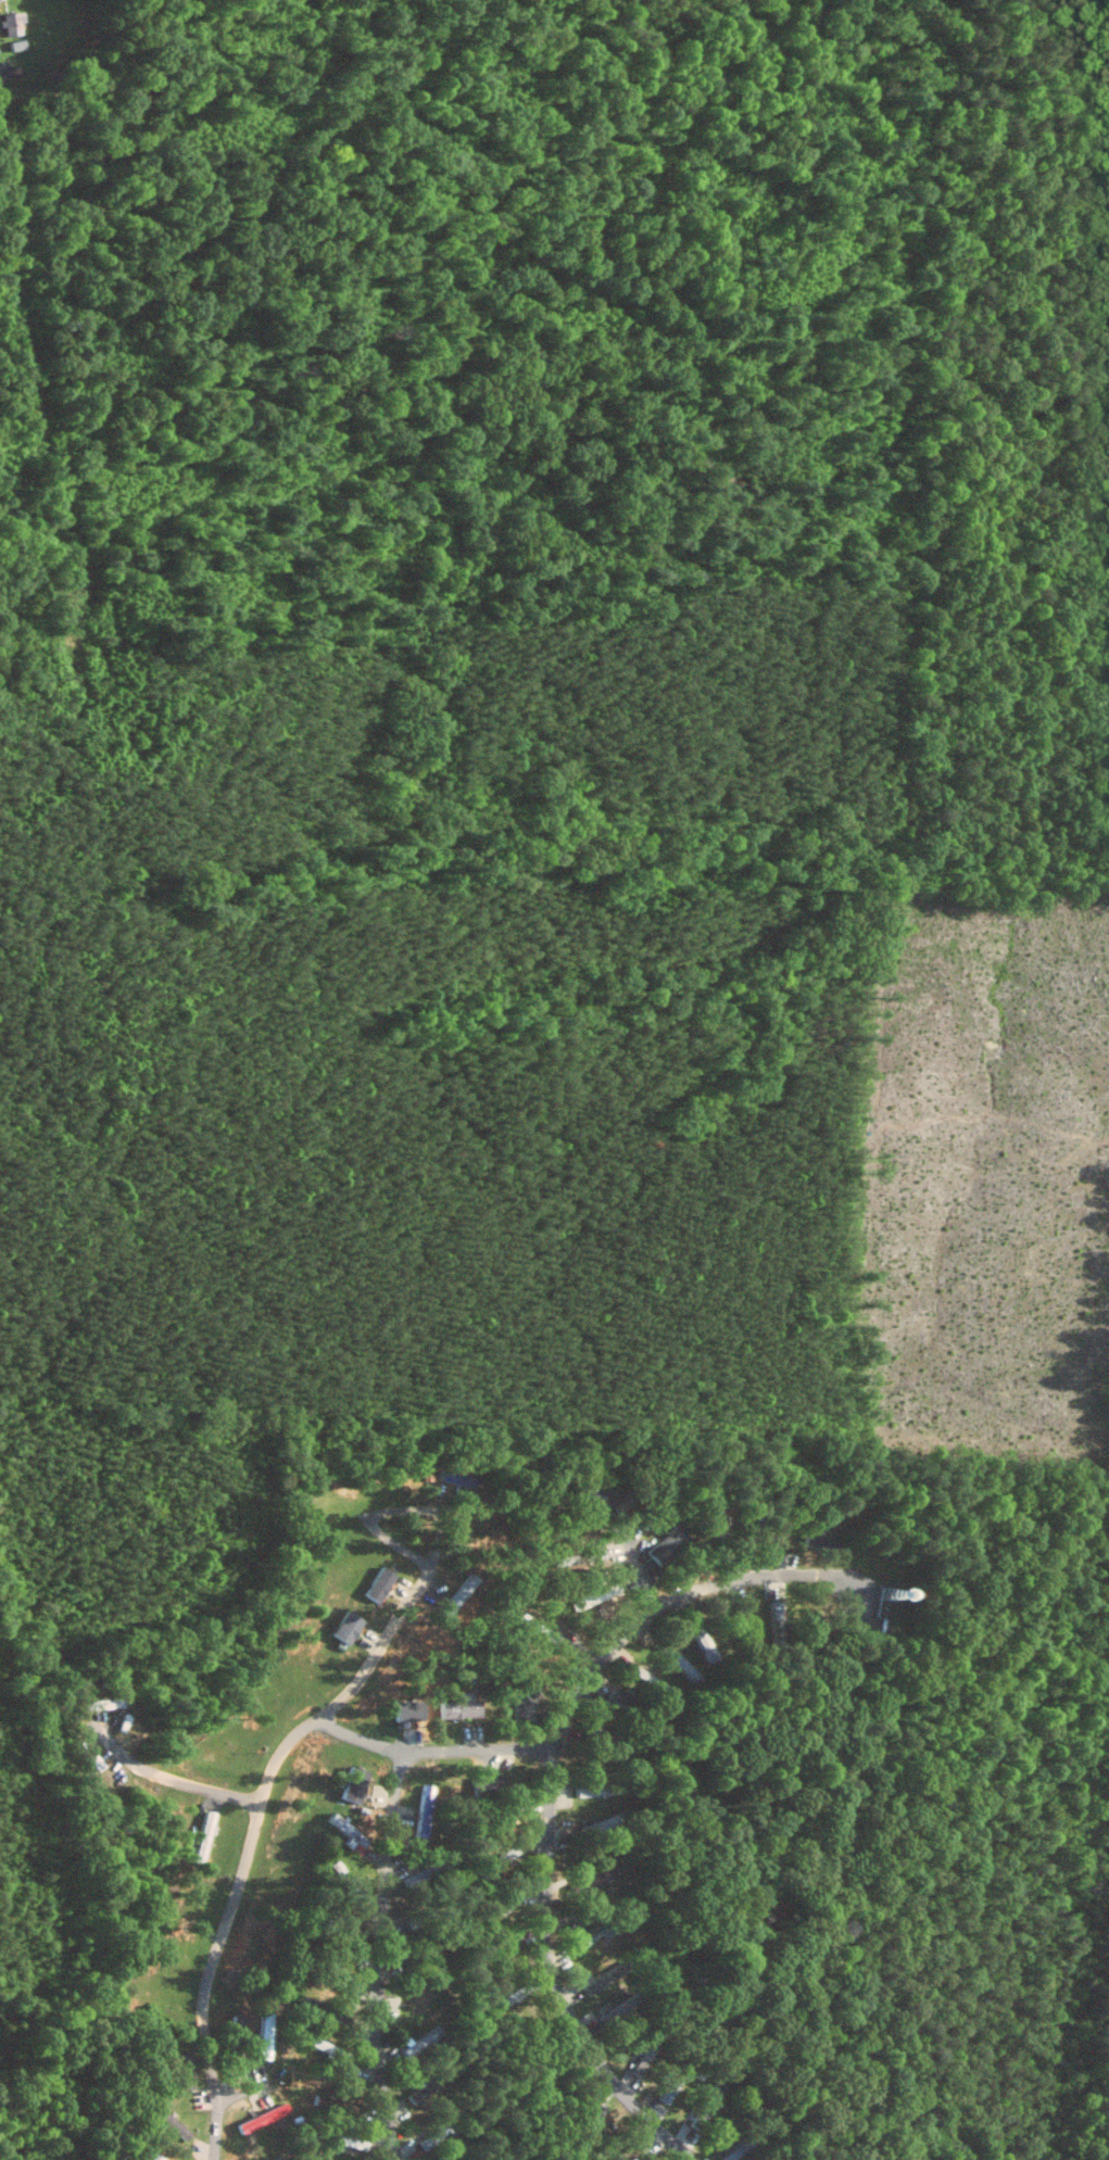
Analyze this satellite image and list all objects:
building: (12, 23)
building: (589, 1494)
road: (395, 1512)
building: (667, 1545)
road: (635, 1564)
building: (378, 1583)
building: (743, 1624)
building: (345, 1627)
building: (645, 1677)
building: (522, 1702)
building: (458, 1708)
road: (433, 1752)
building: (89, 1755)
road: (166, 1780)
building: (352, 1788)
road: (550, 1788)
building: (421, 1828)
road: (250, 1835)
building: (203, 1839)
building: (588, 1881)
road: (379, 1957)
building: (264, 2043)
building: (181, 2074)
road: (243, 2093)
building: (262, 2118)

